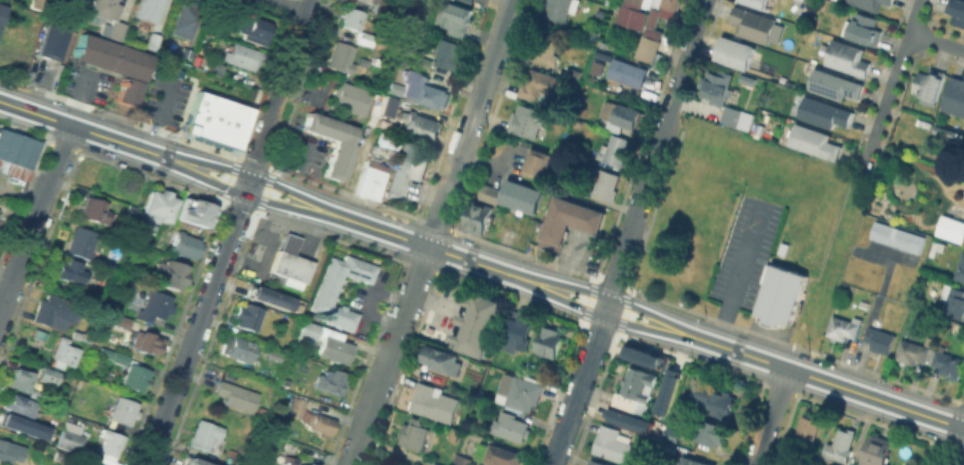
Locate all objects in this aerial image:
building: (471, 0)
building: (367, 1)
building: (376, 1)
building: (756, 3)
building: (41, 4)
building: (668, 4)
building: (870, 4)
road: (287, 7)
building: (150, 9)
building: (558, 9)
building: (957, 12)
building: (628, 13)
building: (2, 14)
building: (110, 17)
building: (459, 17)
building: (651, 17)
building: (354, 18)
building: (188, 19)
building: (753, 24)
road: (696, 27)
building: (257, 29)
building: (866, 30)
building: (365, 38)
building: (53, 40)
building: (154, 41)
road: (936, 42)
building: (646, 43)
building: (545, 48)
road: (395, 49)
building: (449, 53)
building: (736, 54)
building: (244, 56)
building: (342, 56)
building: (425, 58)
building: (848, 59)
building: (119, 69)
building: (628, 74)
road: (485, 81)
road: (891, 84)
building: (542, 85)
building: (717, 85)
building: (930, 85)
building: (835, 86)
road: (675, 89)
building: (423, 93)
building: (349, 97)
parking lot: (165, 98)
building: (955, 98)
building: (388, 108)
road: (160, 114)
building: (619, 114)
building: (732, 114)
building: (825, 114)
building: (215, 118)
building: (527, 119)
building: (421, 124)
building: (382, 140)
building: (816, 143)
building: (615, 149)
building: (18, 153)
building: (337, 158)
road: (359, 158)
building: (538, 162)
building: (407, 168)
building: (370, 180)
building: (606, 184)
building: (514, 194)
building: (162, 205)
building: (95, 210)
building: (183, 212)
building: (205, 212)
road: (282, 216)
building: (479, 216)
road: (35, 222)
building: (572, 225)
building: (952, 228)
road: (232, 233)
road: (310, 236)
building: (895, 236)
building: (83, 241)
building: (185, 245)
building: (937, 247)
road: (268, 249)
parking lot: (748, 249)
building: (292, 259)
road: (482, 264)
building: (960, 268)
building: (68, 269)
building: (170, 273)
road: (740, 274)
building: (328, 293)
building: (779, 294)
road: (610, 295)
building: (274, 300)
road: (370, 300)
building: (954, 300)
building: (864, 304)
building: (155, 306)
building: (58, 311)
road: (404, 313)
building: (248, 314)
building: (122, 320)
building: (480, 327)
building: (844, 327)
building: (309, 331)
building: (516, 333)
building: (85, 335)
building: (40, 338)
building: (880, 339)
building: (549, 340)
building: (147, 342)
building: (238, 347)
building: (337, 349)
building: (64, 351)
building: (912, 351)
building: (116, 355)
building: (640, 355)
building: (443, 359)
building: (948, 363)
building: (57, 375)
building: (136, 377)
building: (24, 379)
building: (333, 381)
building: (631, 388)
building: (521, 390)
building: (666, 390)
building: (238, 395)
building: (428, 398)
building: (717, 401)
building: (20, 406)
building: (125, 410)
building: (263, 413)
building: (310, 415)
road: (770, 417)
building: (627, 419)
building: (22, 426)
building: (512, 426)
building: (810, 426)
building: (711, 432)
building: (414, 433)
building: (207, 435)
building: (673, 436)
building: (71, 440)
building: (611, 443)
building: (112, 444)
building: (842, 445)
building: (667, 447)
road: (957, 447)
building: (7, 450)
building: (878, 450)
building: (503, 455)
building: (463, 459)
building: (289, 460)
building: (694, 461)
building: (597, 462)
building: (85, 463)
building: (93, 463)
building: (194, 463)
building: (438, 463)
building: (301, 464)
building: (313, 464)
building: (434, 464)

